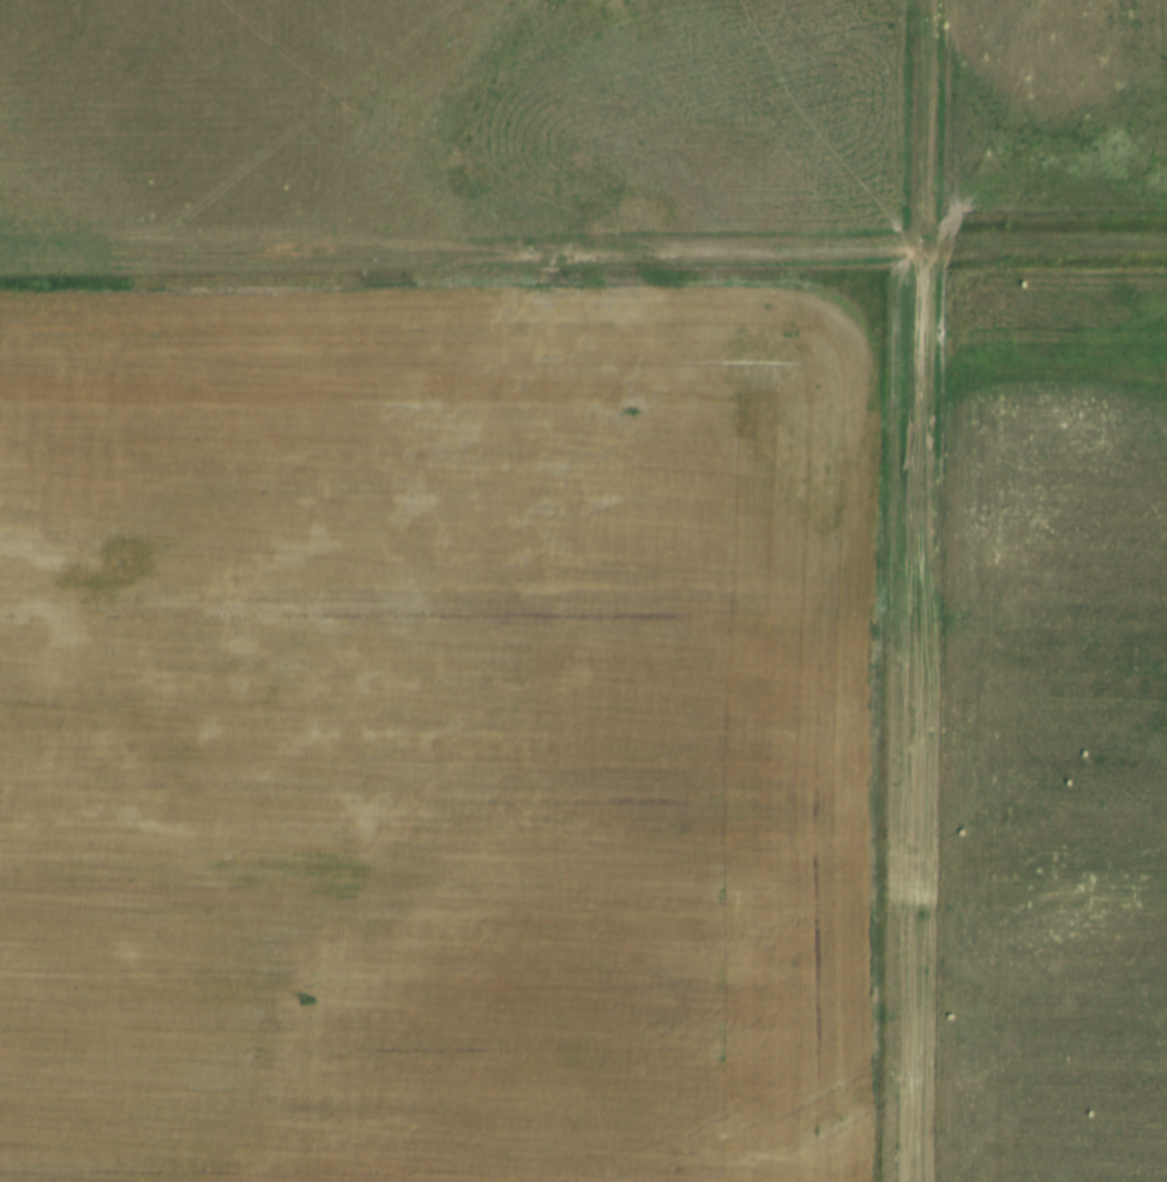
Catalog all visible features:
road: (924, 125)
road: (1047, 247)

